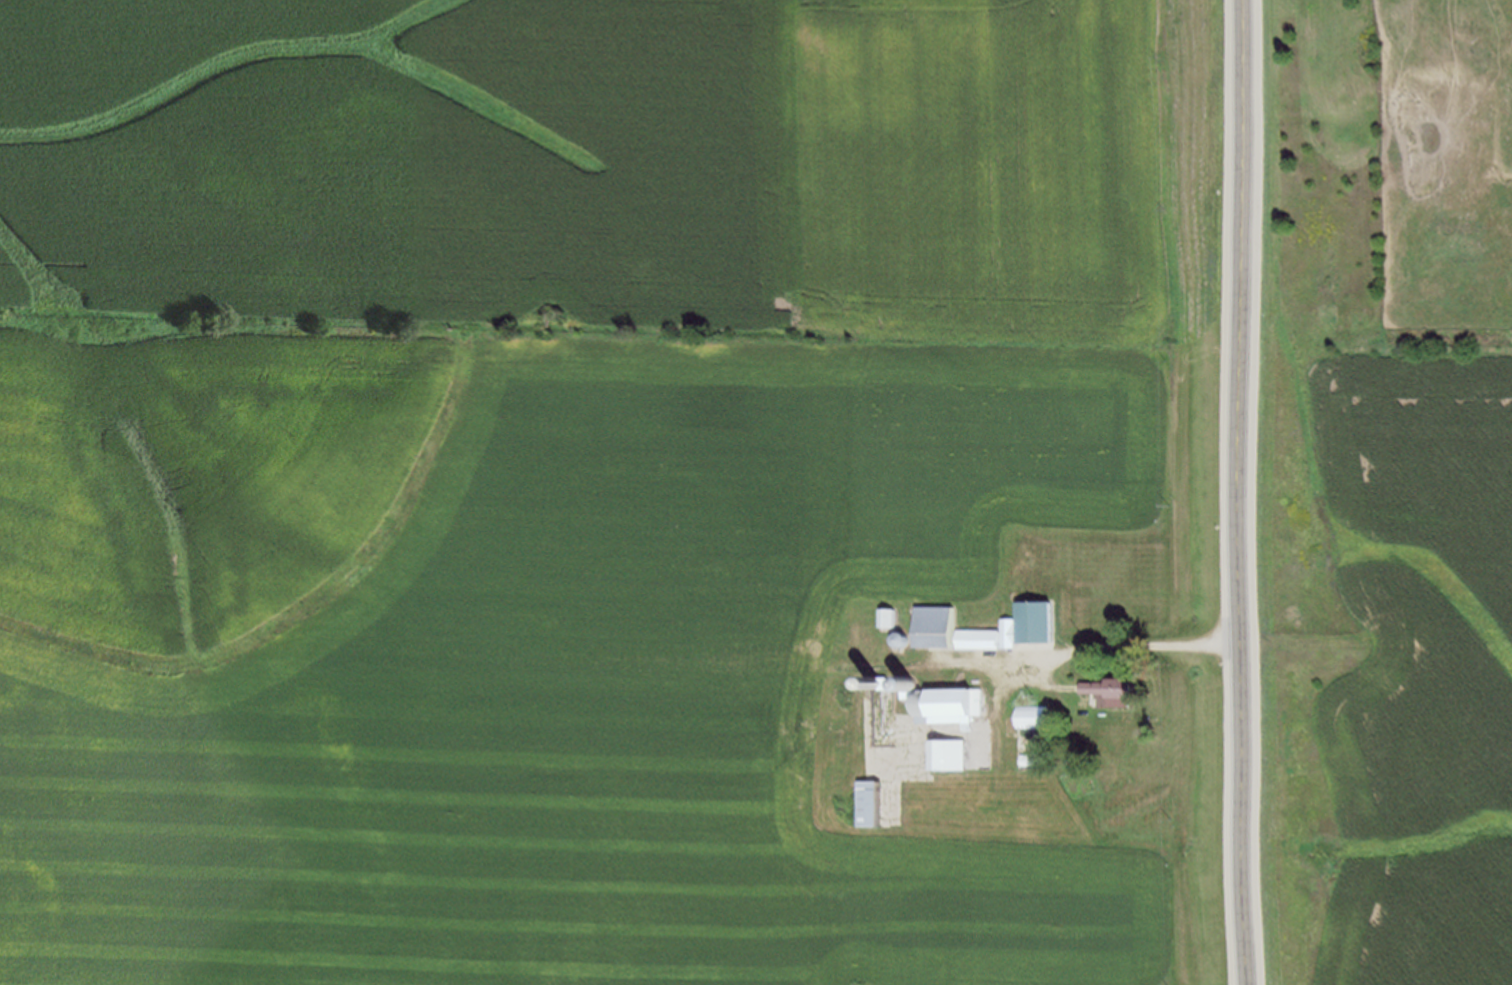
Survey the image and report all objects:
road: (1244, 492)
building: (890, 616)
building: (1031, 623)
building: (951, 628)
road: (1050, 658)
building: (1112, 689)
building: (946, 703)
building: (1033, 715)
building: (951, 753)
building: (875, 802)

